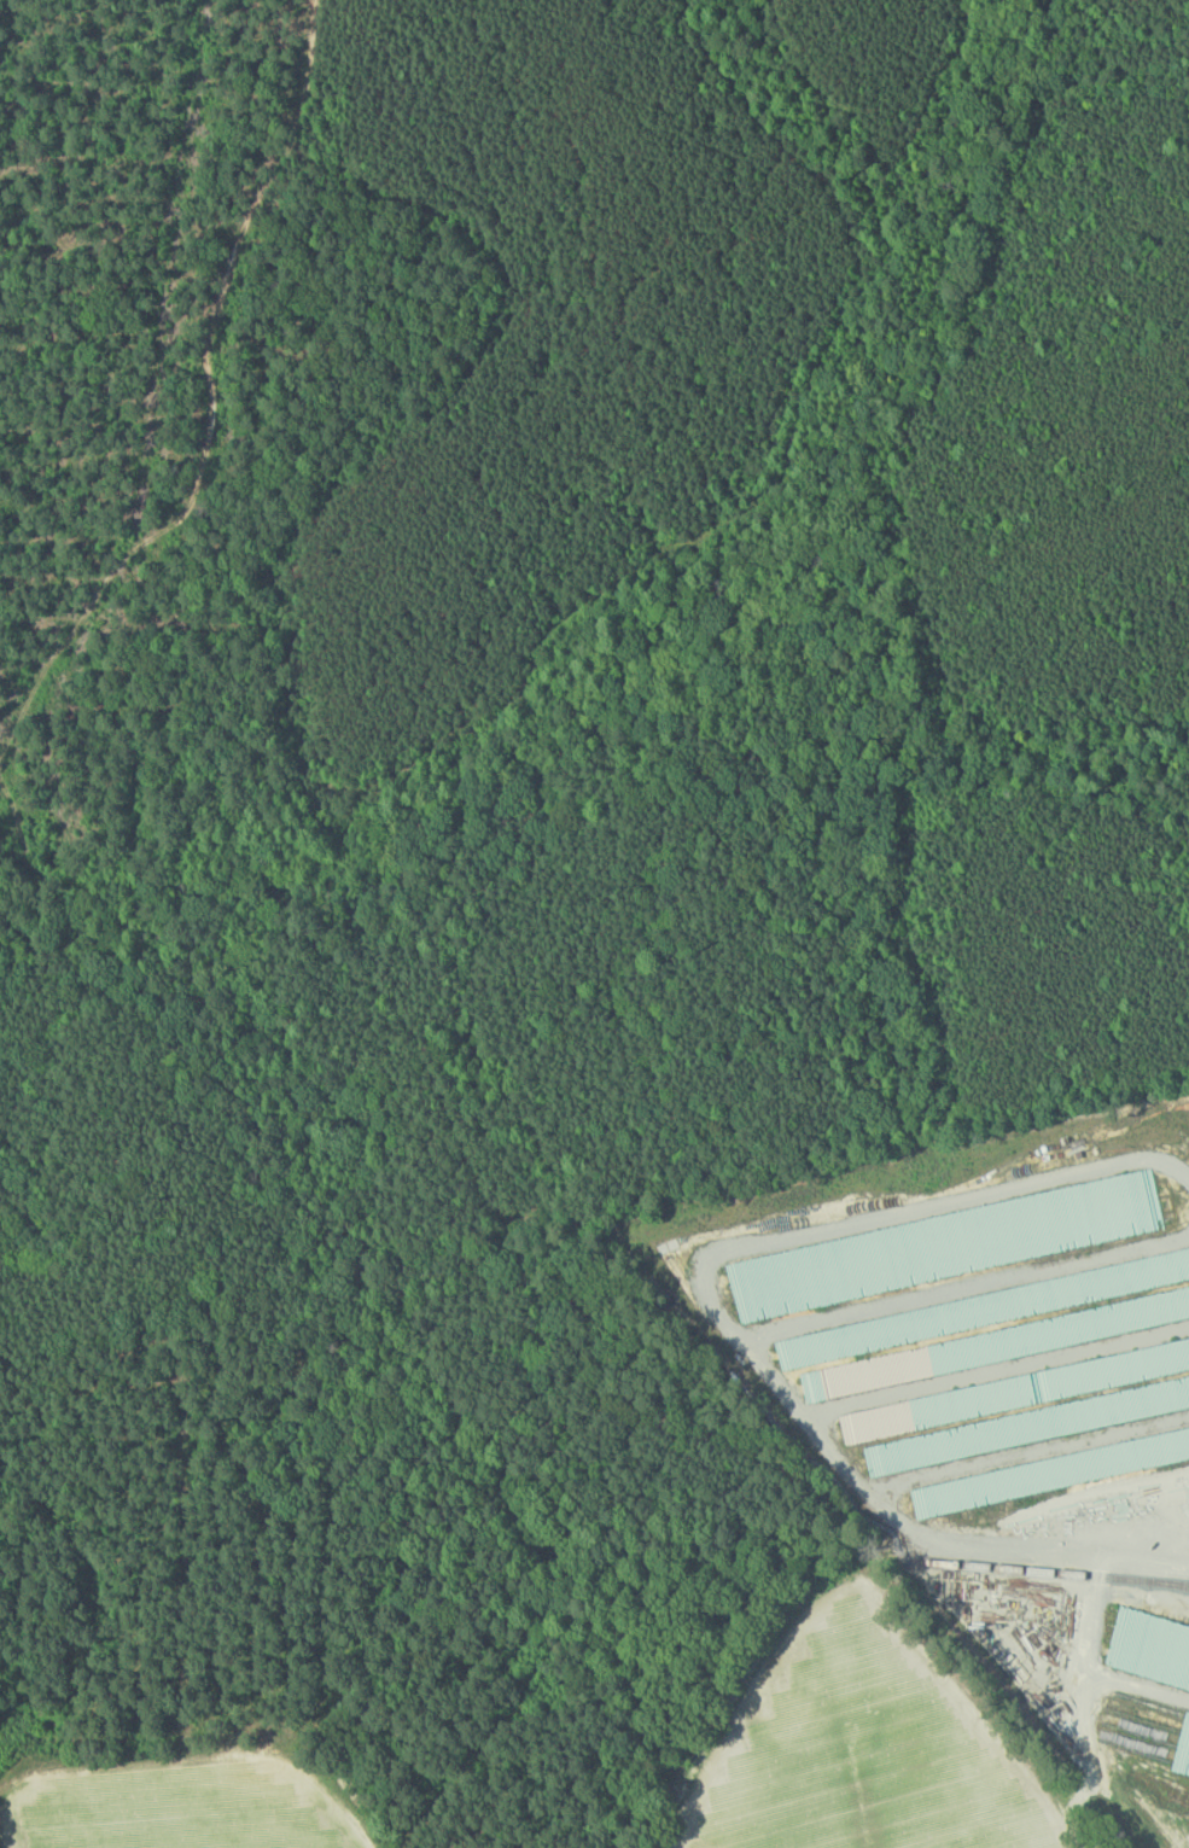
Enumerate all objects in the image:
railway: (1055, 1572)
railway: (1176, 1582)

